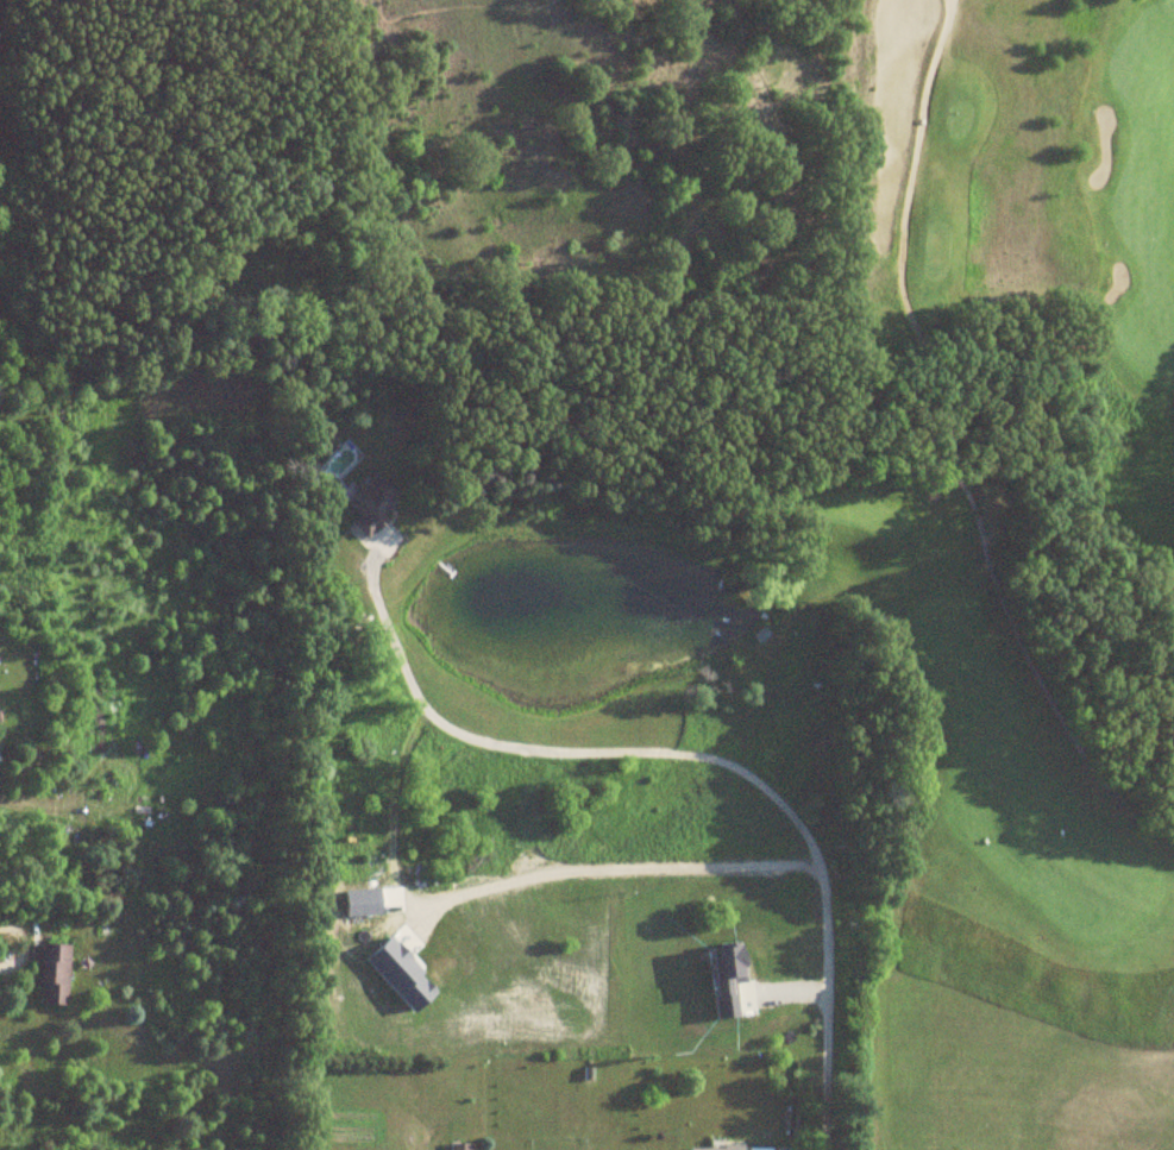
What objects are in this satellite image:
building: (370, 503)
park: (1000, 571)
road: (715, 761)
road: (647, 868)
building: (51, 975)
building: (459, 1146)
building: (711, 1148)

